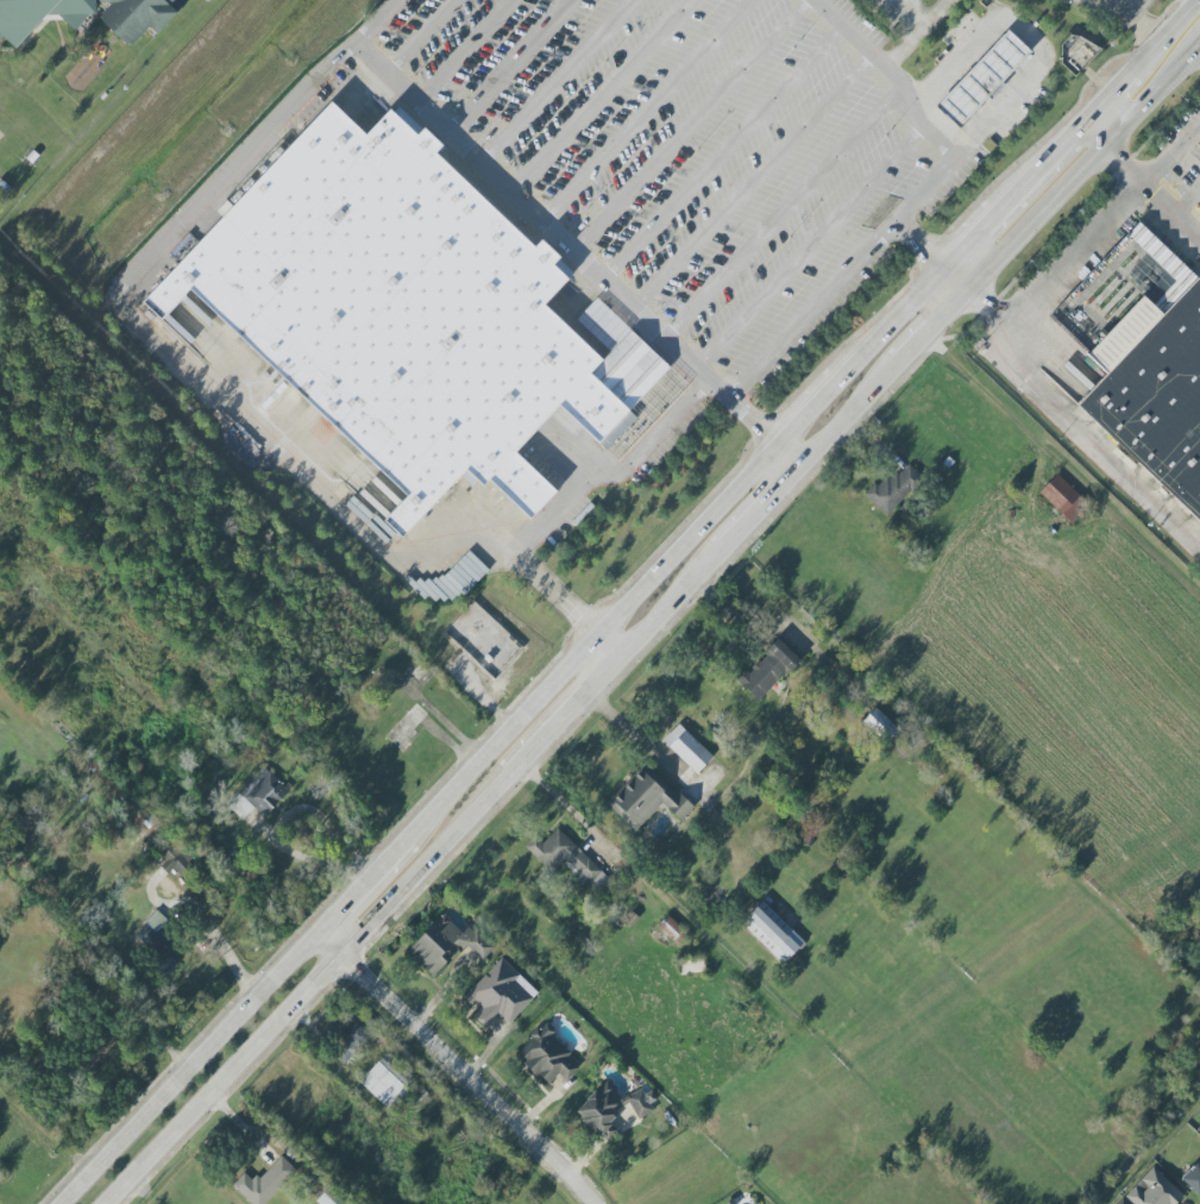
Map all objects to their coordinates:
road: (901, 10)
gas station: (1126, 11)
building: (88, 15)
road: (896, 15)
road: (929, 17)
road: (1132, 20)
road: (1029, 35)
road: (415, 36)
road: (861, 49)
road: (463, 51)
building: (1076, 52)
road: (509, 67)
building: (980, 79)
gas station: (989, 79)
road: (557, 82)
road: (603, 96)
road: (646, 109)
road: (690, 125)
road: (1093, 134)
road: (262, 136)
road: (957, 142)
parking lot: (695, 150)
road: (722, 153)
road: (1171, 153)
building: (32, 156)
parking lot: (1175, 167)
road: (753, 182)
road: (1151, 190)
road: (1187, 200)
road: (529, 209)
road: (784, 212)
road: (815, 242)
road: (919, 246)
building: (1154, 247)
road: (1073, 252)
road: (955, 280)
road: (813, 308)
building: (406, 309)
road: (1006, 324)
building: (172, 325)
building: (1164, 405)
road: (746, 409)
road: (1087, 437)
road: (791, 452)
road: (759, 468)
road: (297, 470)
road: (615, 476)
building: (894, 488)
building: (1062, 498)
road: (722, 541)
road: (553, 596)
road: (605, 647)
building: (768, 669)
building: (879, 726)
road: (634, 733)
building: (687, 748)
building: (263, 791)
building: (646, 798)
road: (565, 805)
road: (321, 816)
building: (172, 857)
road: (303, 857)
building: (565, 858)
building: (672, 930)
building: (772, 932)
building: (156, 941)
building: (445, 945)
building: (498, 995)
building: (350, 1043)
building: (546, 1055)
road: (459, 1066)
road: (188, 1067)
building: (388, 1081)
building: (610, 1109)
road: (182, 1127)
building: (1199, 1131)
building: (1193, 1178)
building: (265, 1181)
building: (1152, 1190)
building: (329, 1198)
building: (1122, 1202)

